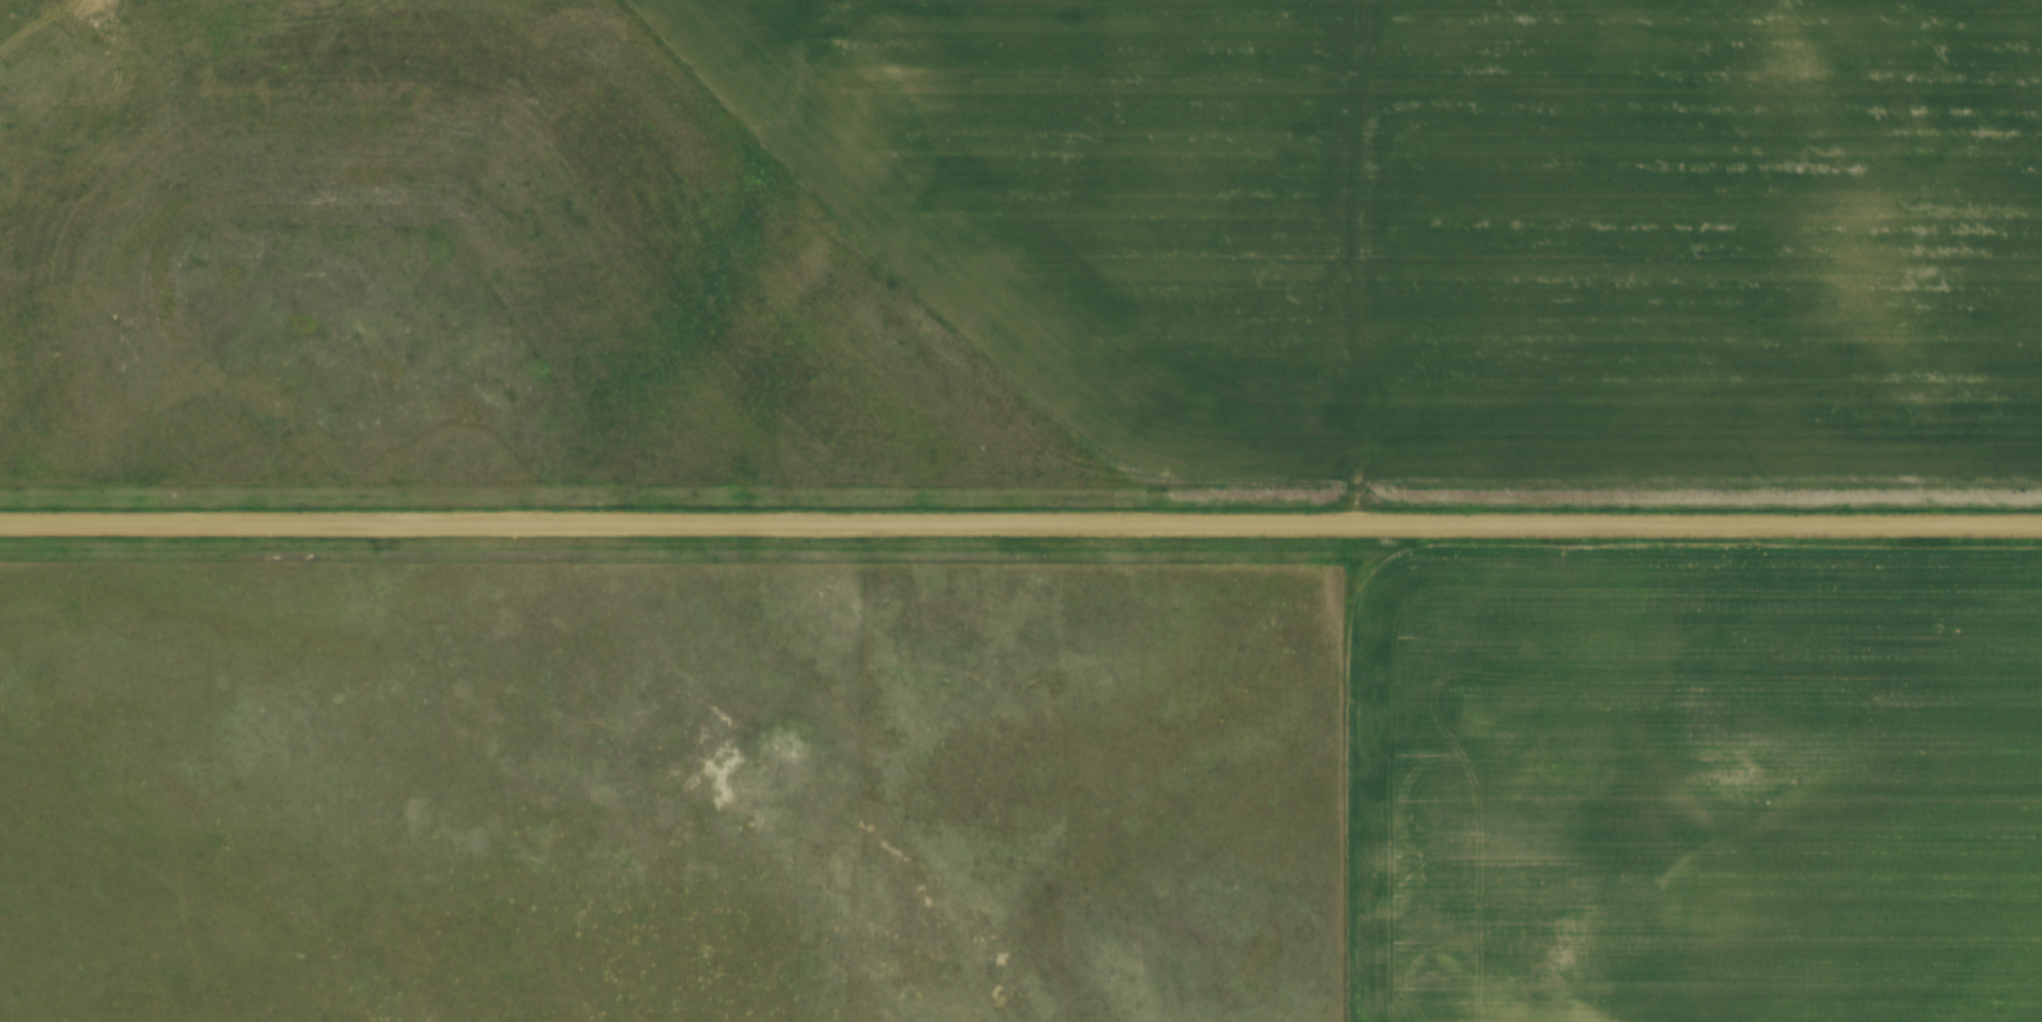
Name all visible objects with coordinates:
road: (1020, 519)

